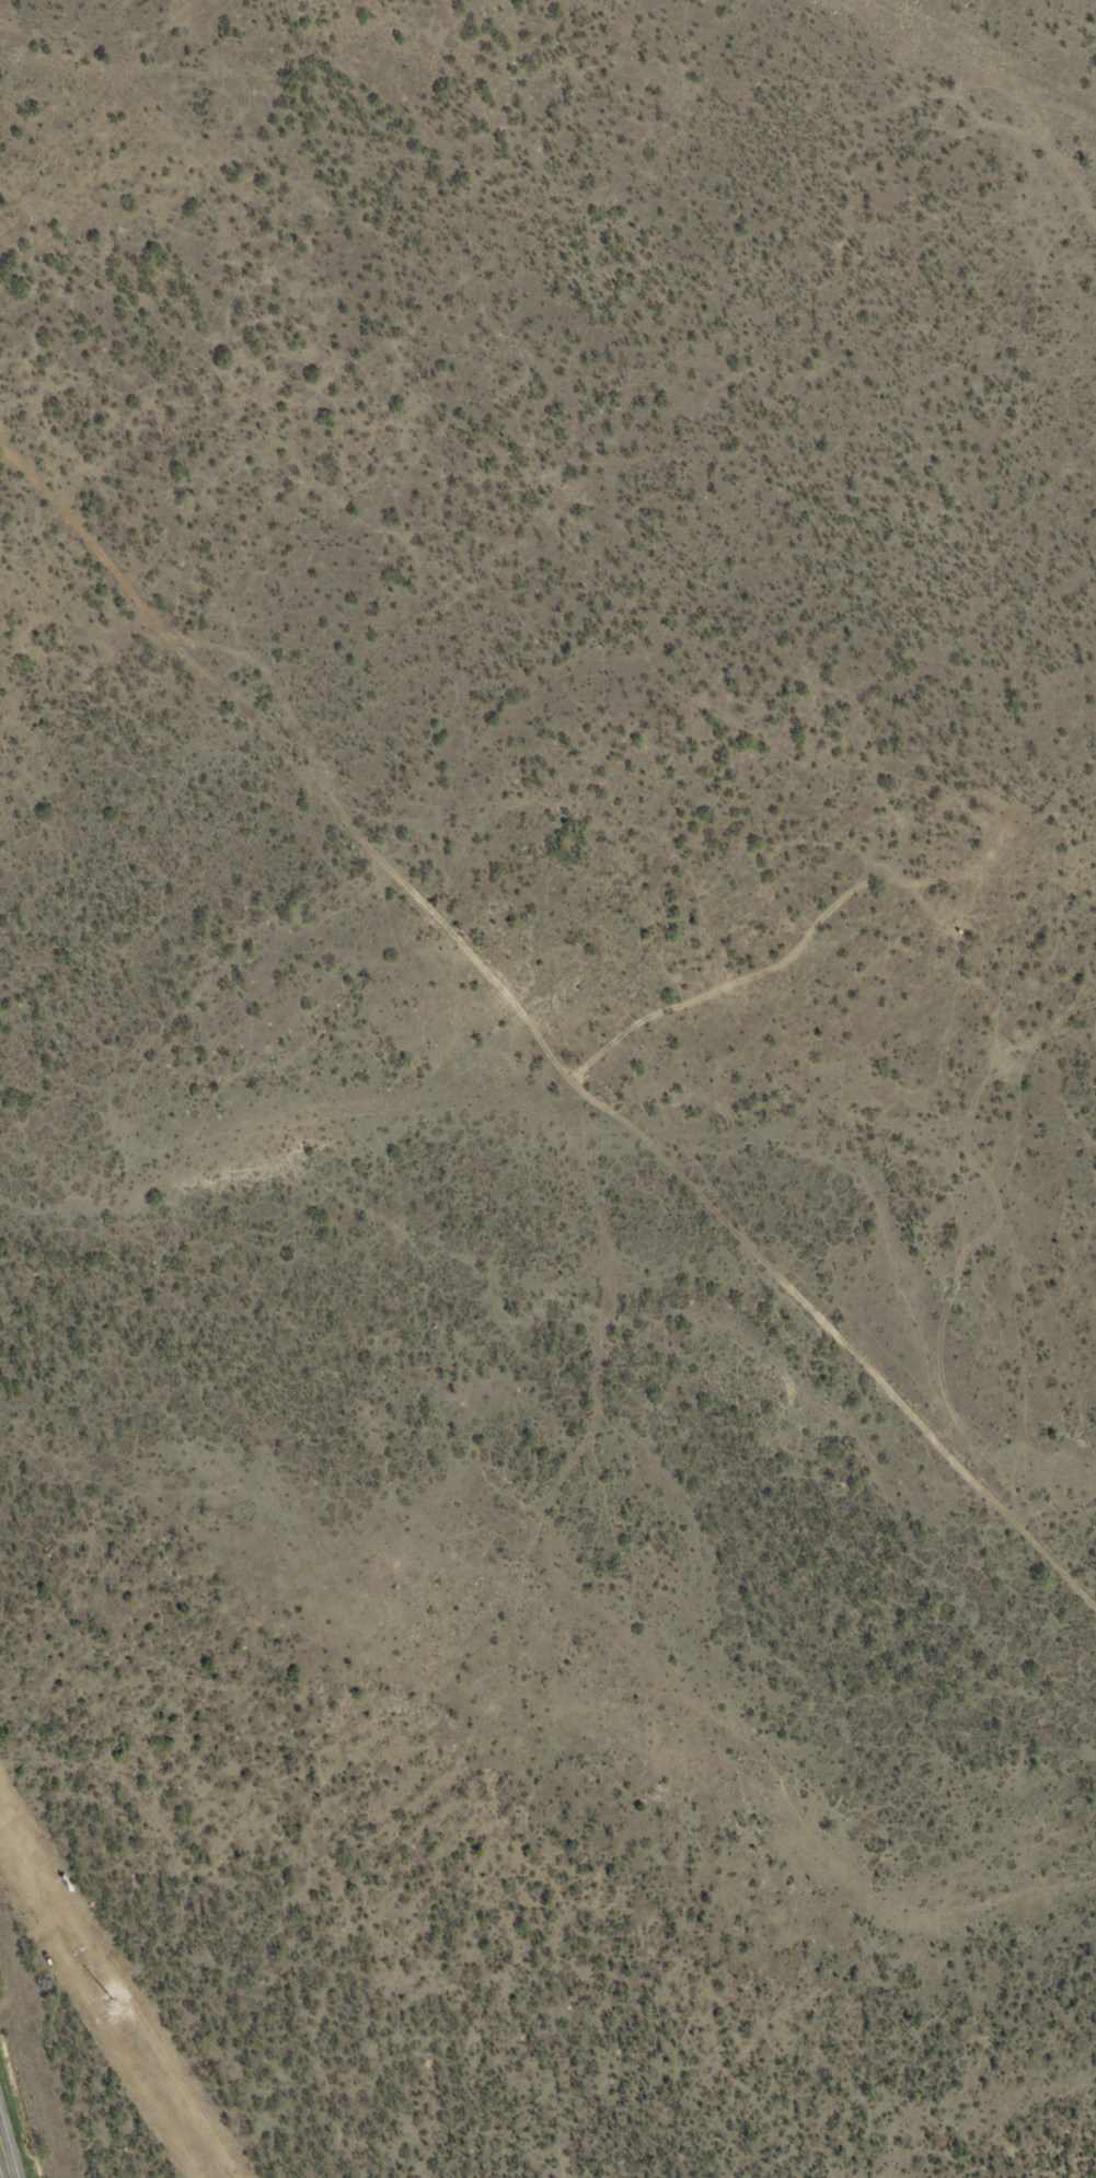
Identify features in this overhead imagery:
power tower: (81, 1953)
road: (7, 2153)

